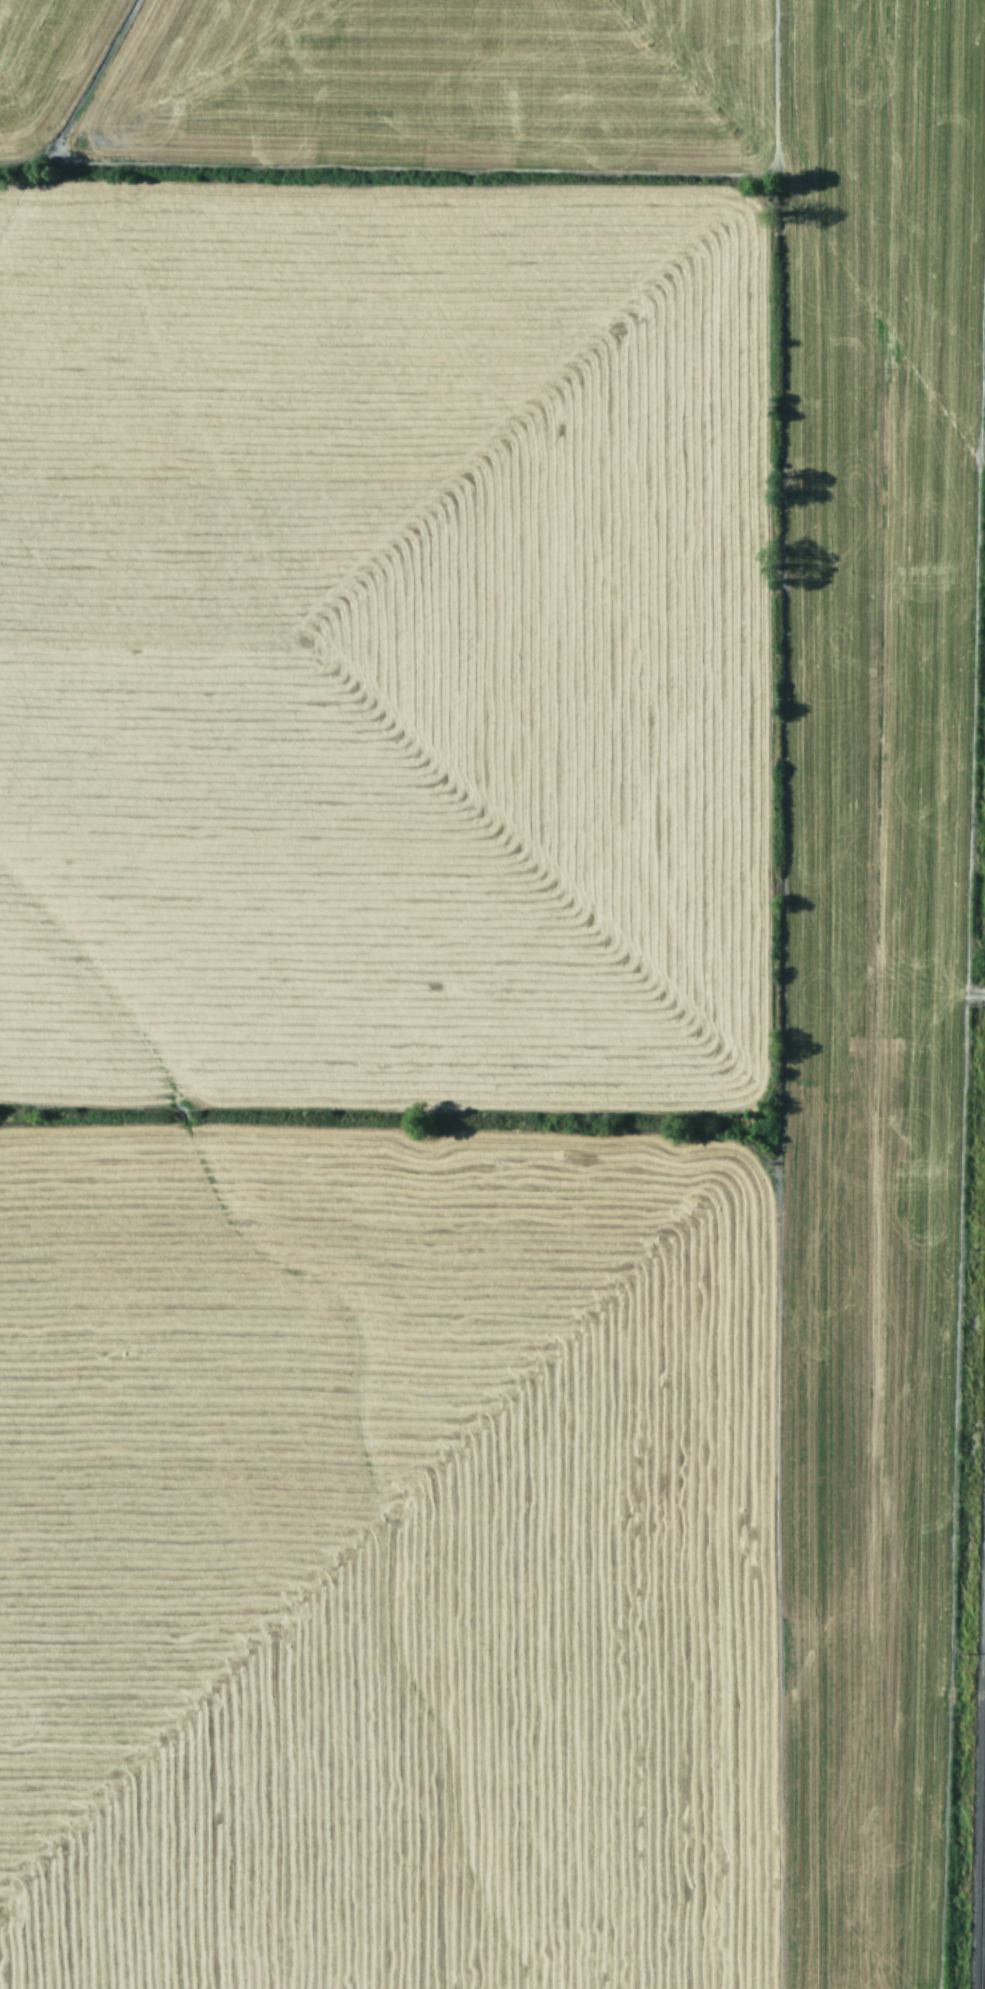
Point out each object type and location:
crop: (478, 987)
railway: (981, 1841)

